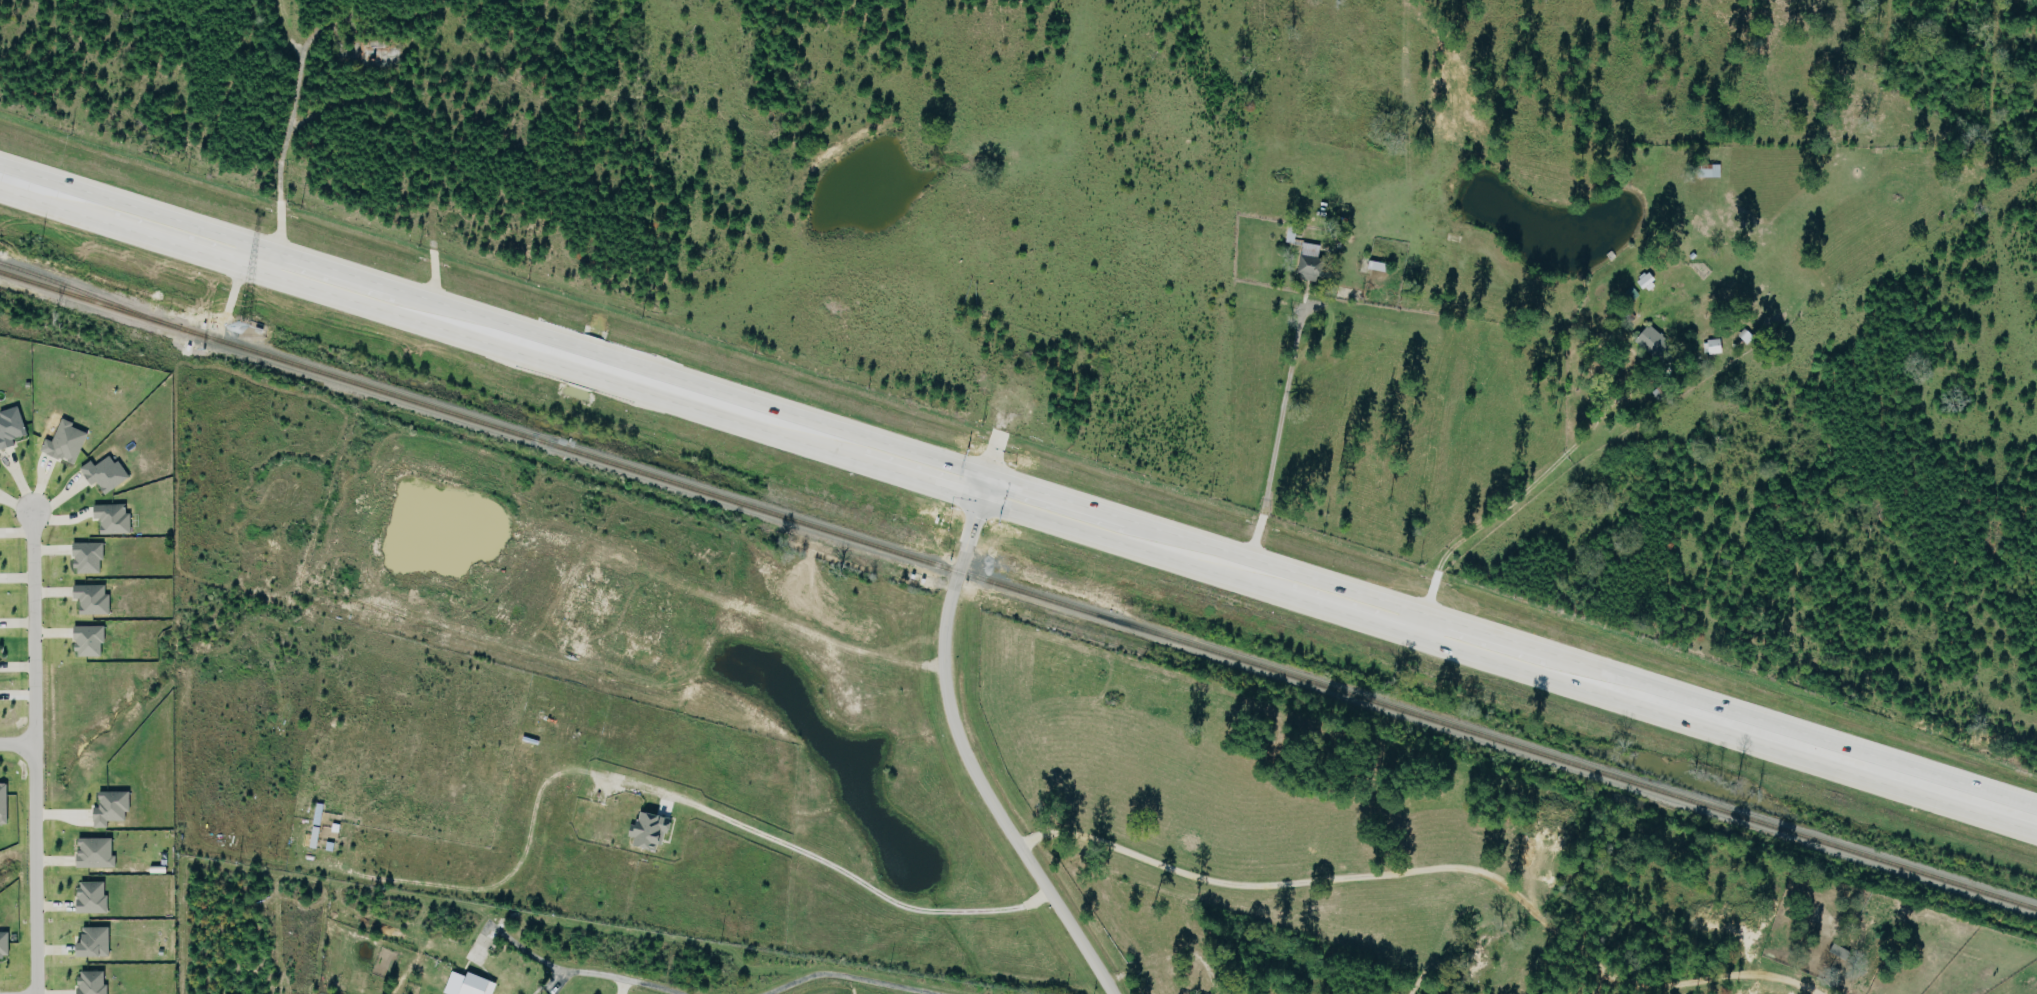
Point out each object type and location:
building: (1709, 170)
building: (1307, 255)
building: (1260, 256)
building: (1373, 265)
building: (1644, 282)
railway: (79, 292)
building: (1628, 296)
building: (1711, 348)
building: (1658, 350)
road: (1859, 375)
building: (10, 427)
road: (1276, 441)
building: (64, 442)
building: (103, 473)
road: (1018, 492)
road: (1512, 502)
building: (112, 518)
building: (86, 557)
railway: (1018, 592)
building: (90, 599)
building: (87, 641)
road: (15, 744)
road: (31, 752)
road: (965, 752)
building: (3, 804)
building: (109, 808)
building: (647, 831)
building: (94, 853)
road: (1431, 870)
road: (849, 882)
building: (90, 897)
building: (92, 943)
building: (3, 944)
road: (575, 973)
road: (839, 979)
building: (90, 983)
building: (475, 985)

